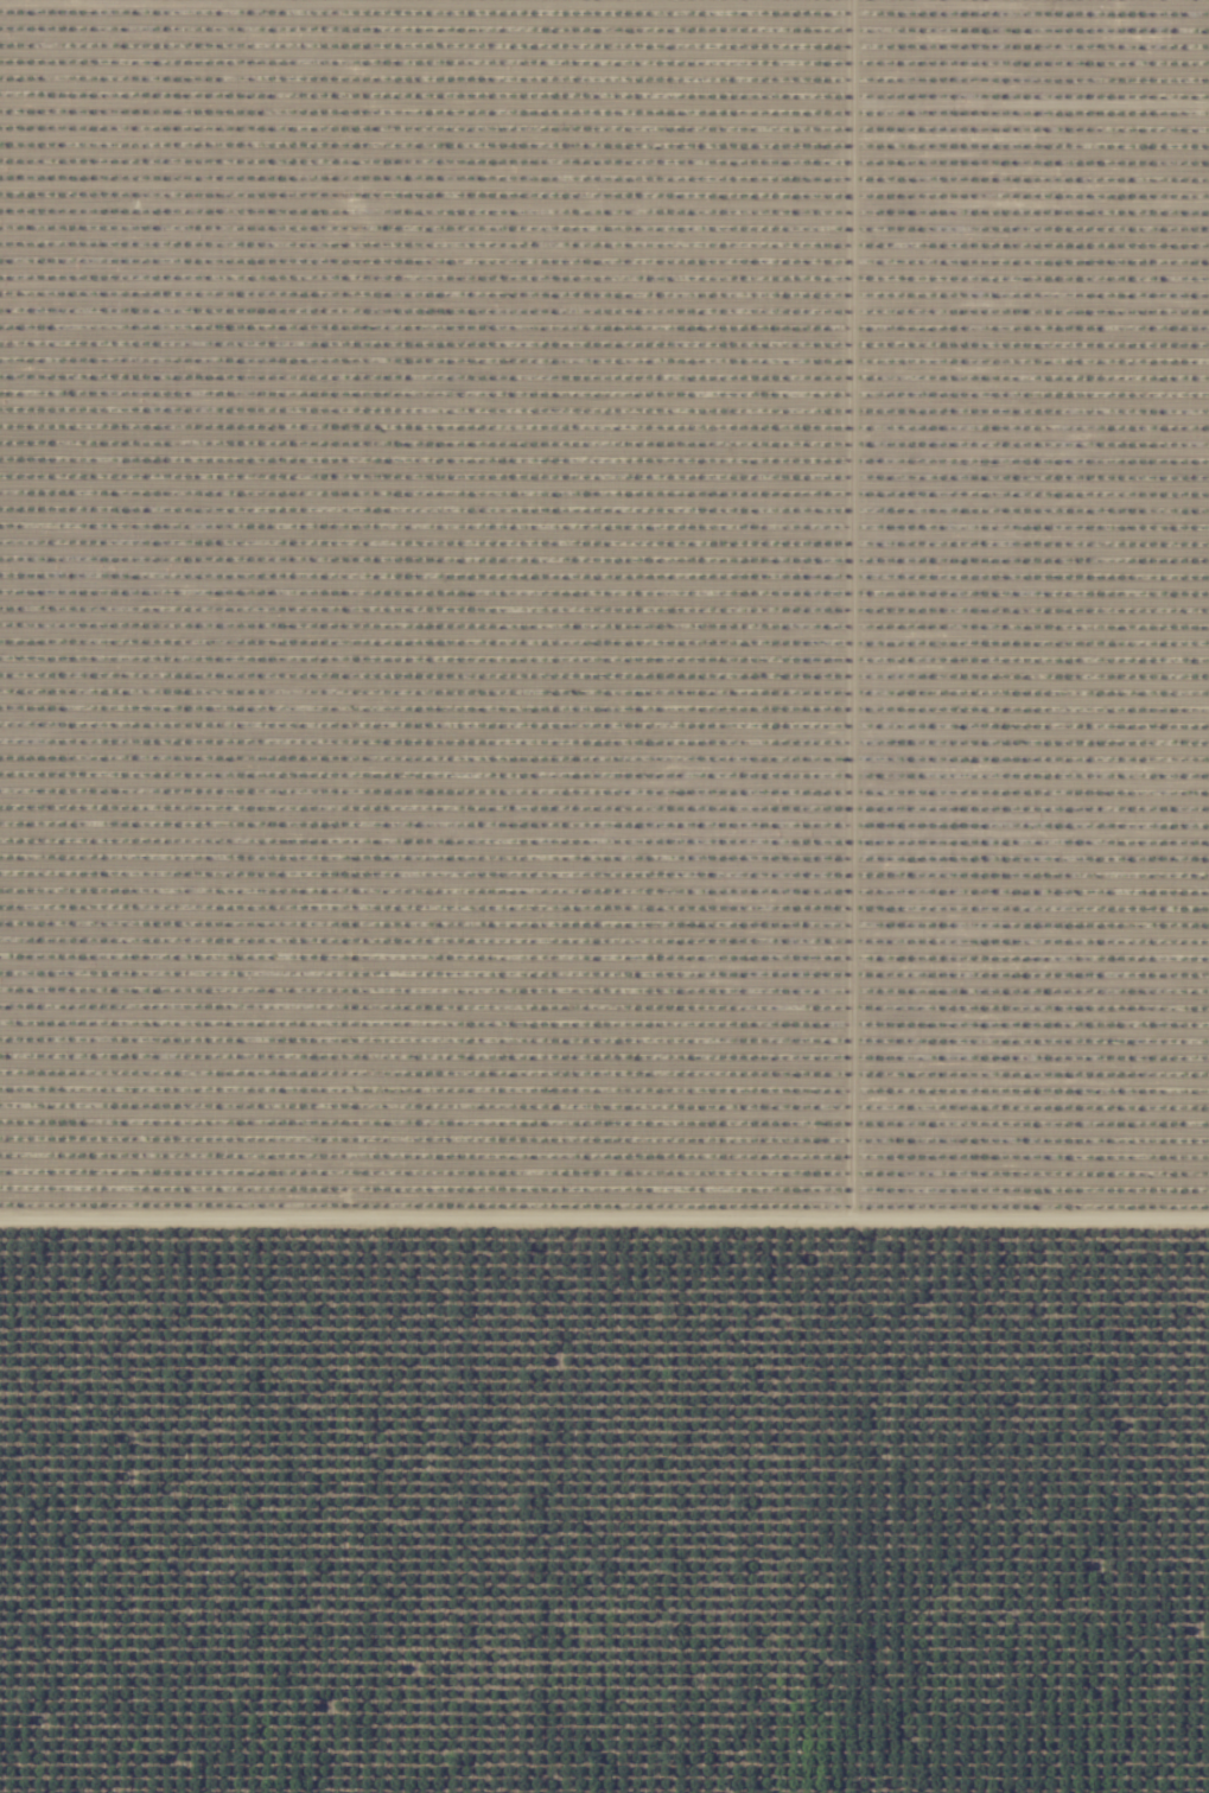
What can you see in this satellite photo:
road: (604, 1227)

